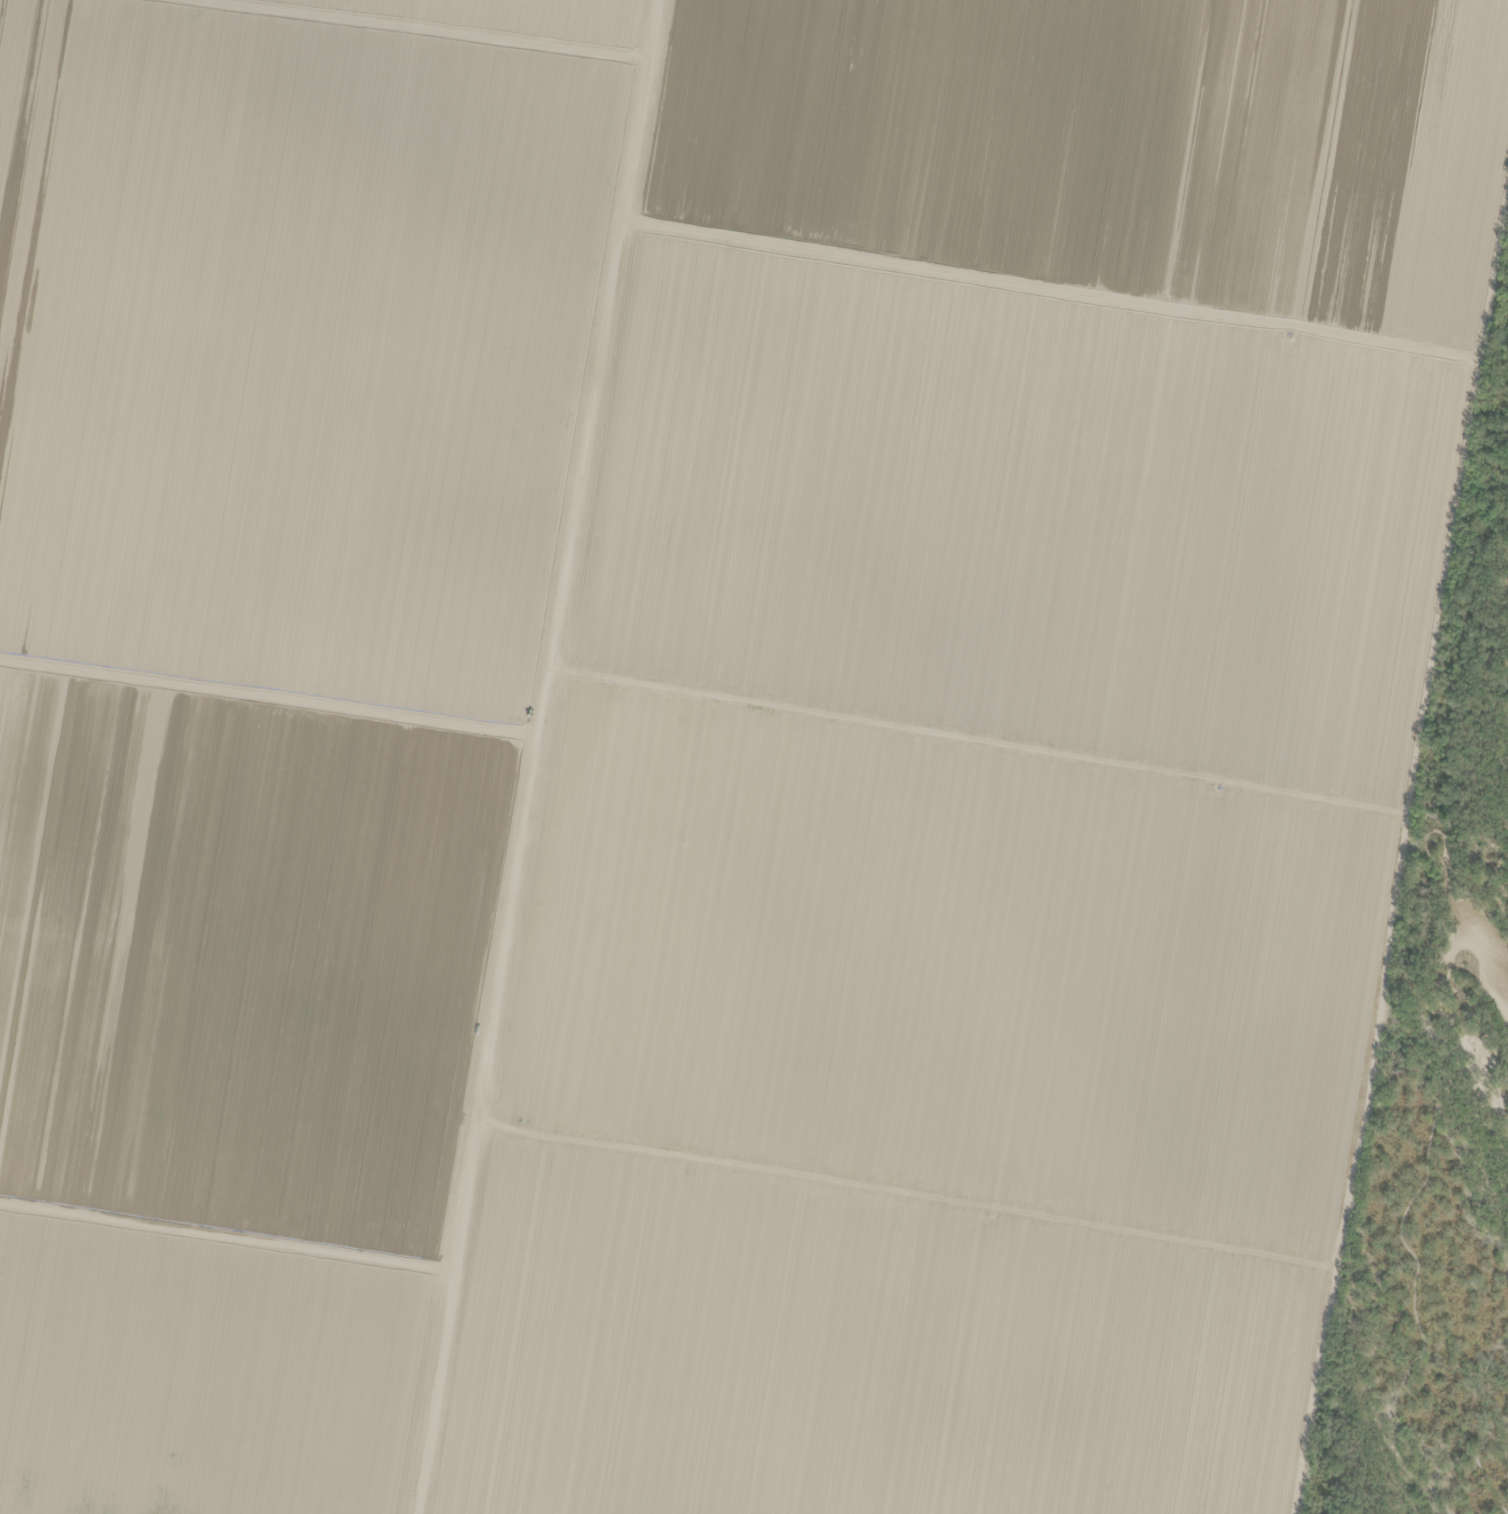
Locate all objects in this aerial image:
road: (568, 756)

